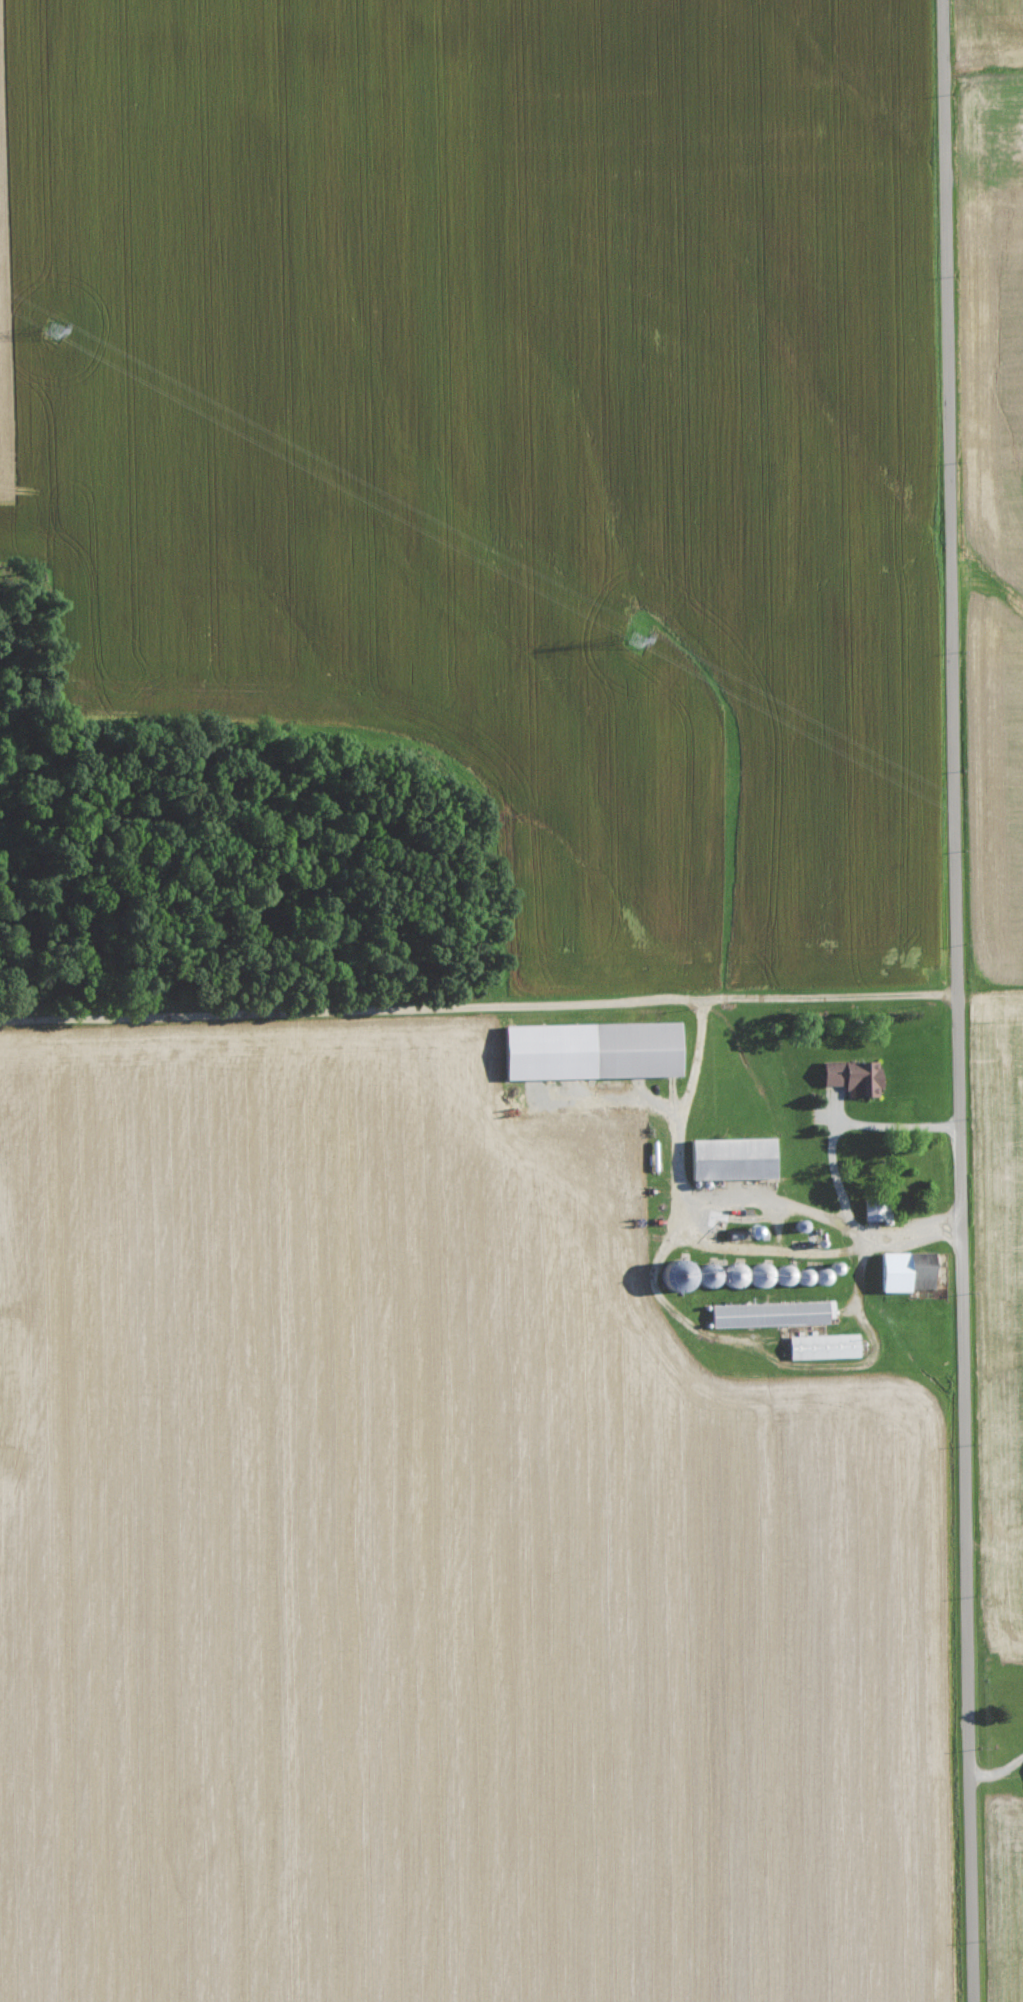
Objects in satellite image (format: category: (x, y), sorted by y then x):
power tower: (39, 350)
power tower: (631, 654)
road: (975, 1000)
road: (488, 1037)
building: (598, 1051)
building: (858, 1078)
building: (738, 1159)
building: (878, 1210)
building: (911, 1272)
building: (774, 1314)
building: (827, 1347)

